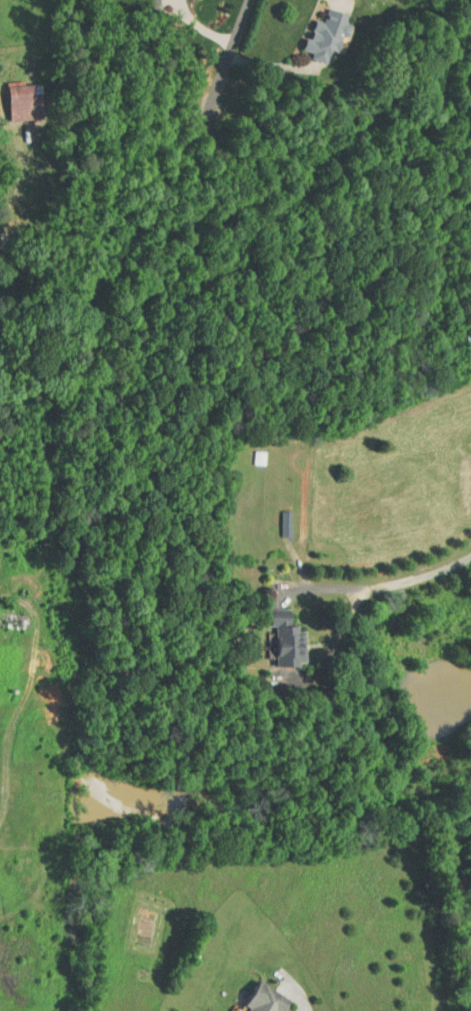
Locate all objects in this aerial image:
road: (346, 2)
building: (316, 28)
road: (230, 60)
building: (15, 95)
road: (360, 595)
building: (276, 633)
building: (253, 995)

